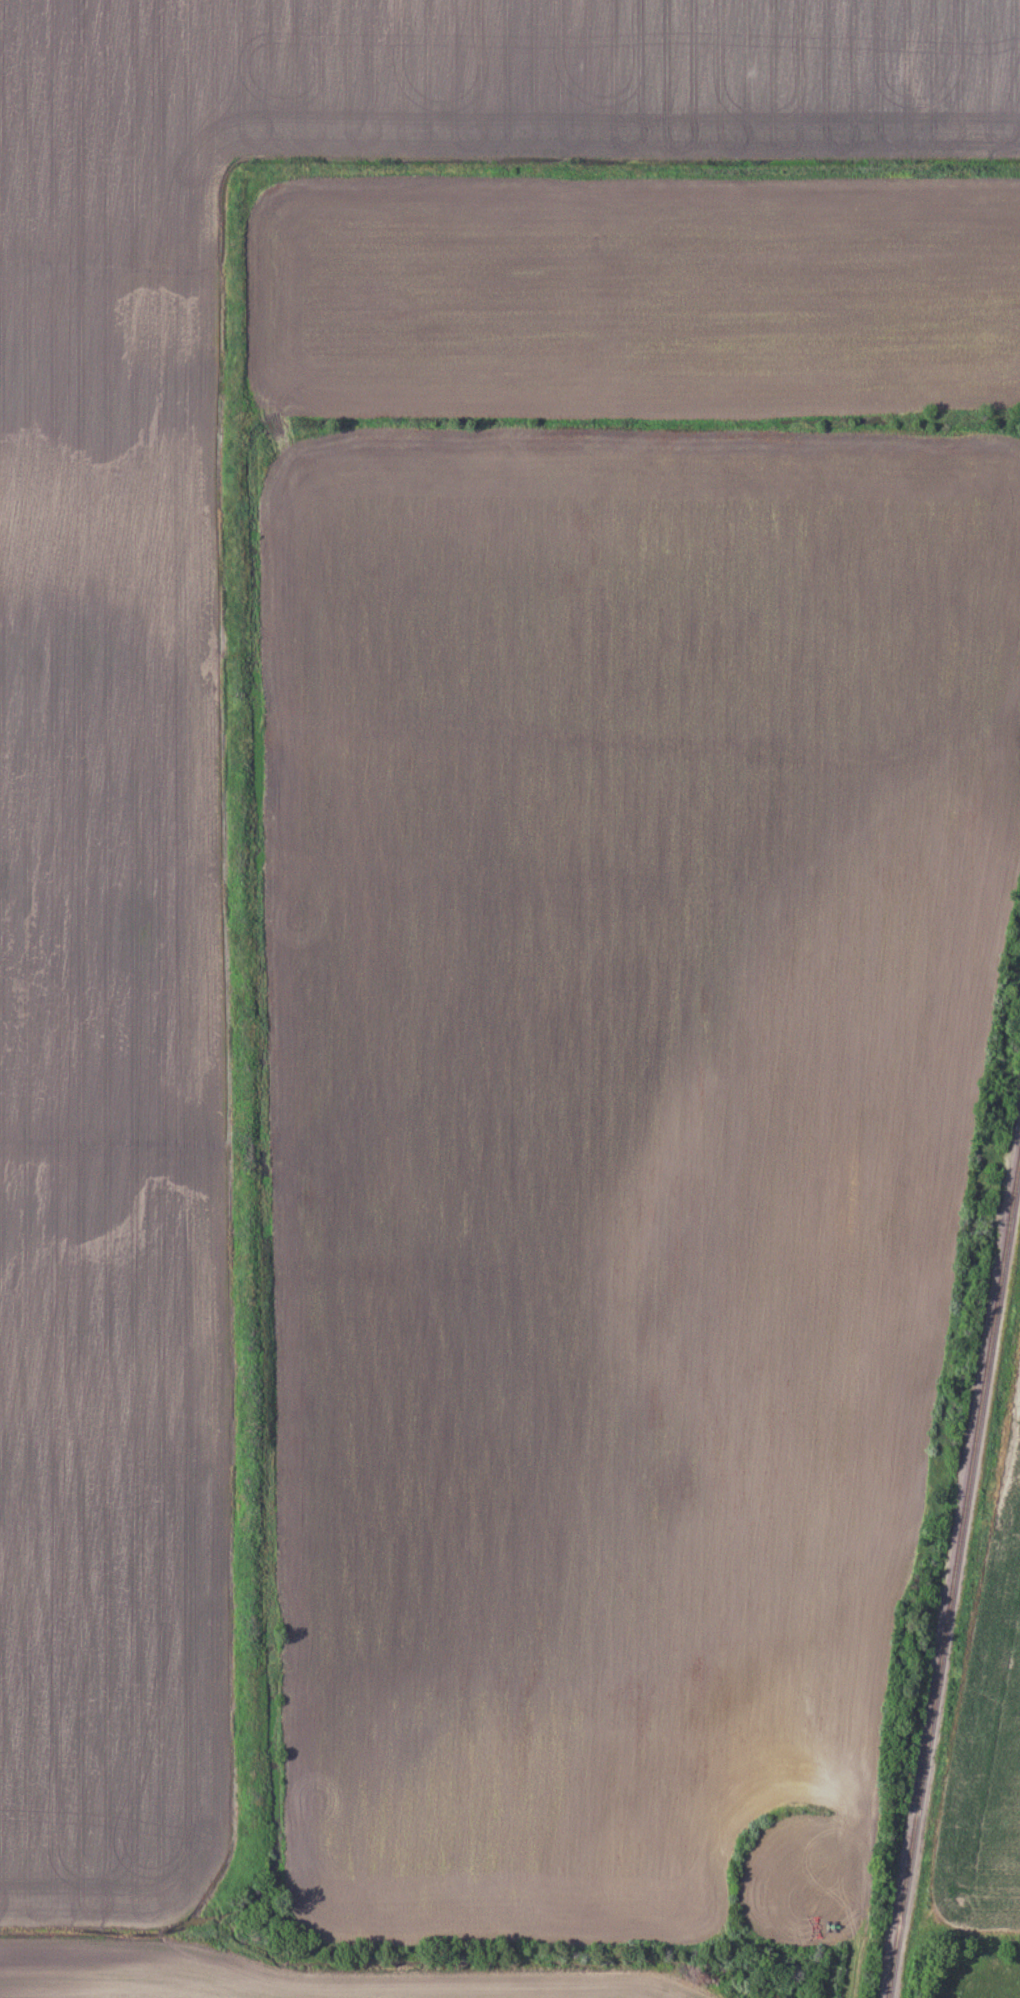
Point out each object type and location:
railway: (958, 1631)

